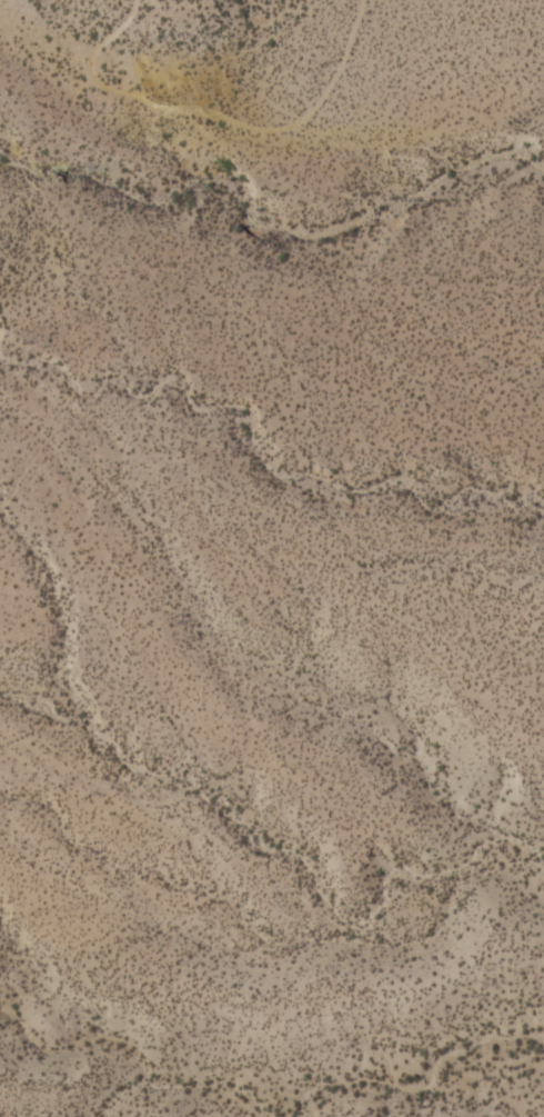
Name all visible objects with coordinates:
road: (40, 50)
road: (214, 120)

